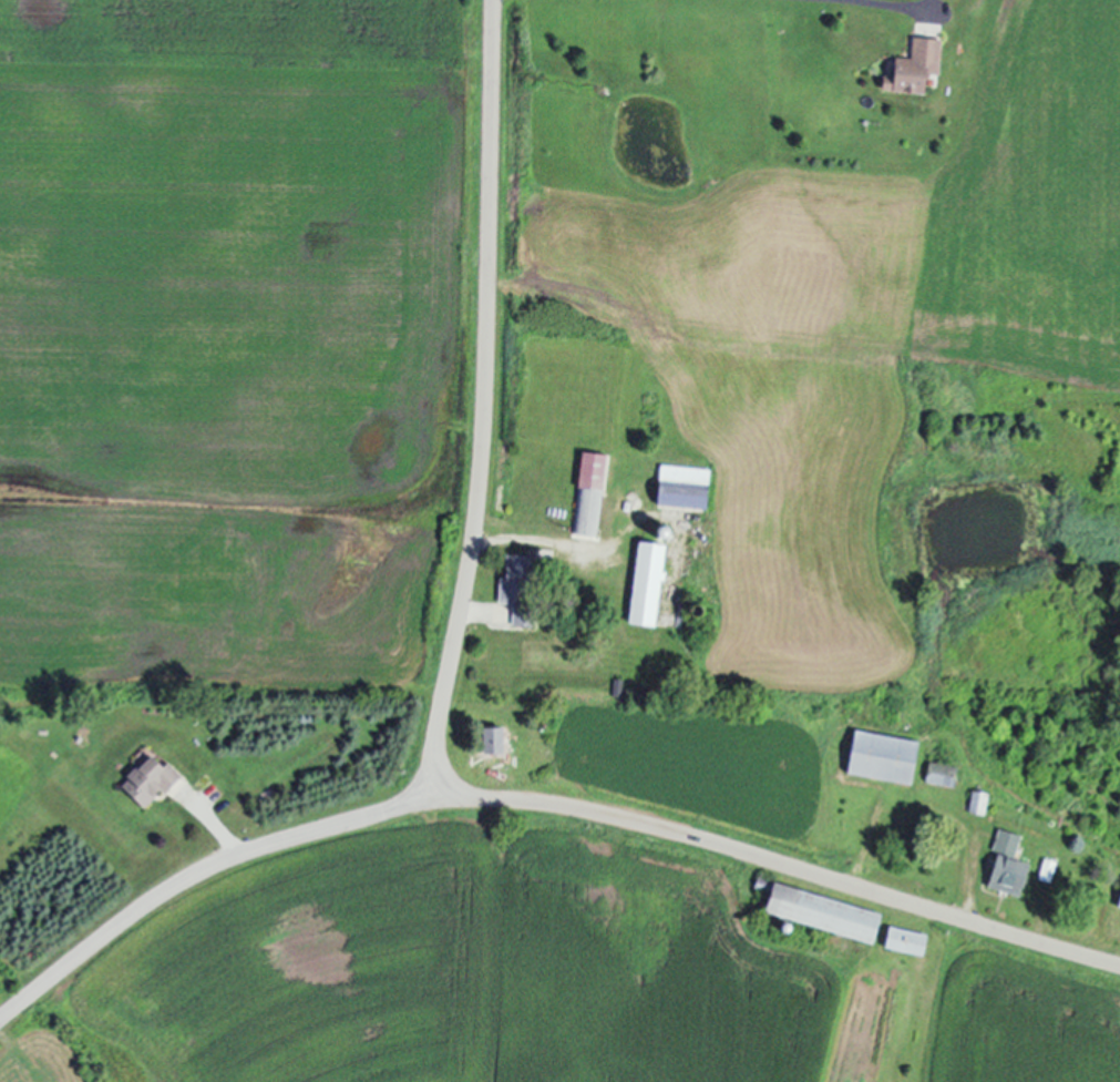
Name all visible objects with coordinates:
road: (885, 7)
building: (917, 68)
road: (487, 401)
building: (686, 486)
building: (590, 490)
road: (542, 542)
building: (650, 583)
building: (522, 589)
building: (496, 739)
building: (886, 756)
building: (944, 774)
building: (153, 780)
building: (979, 802)
road: (541, 803)
road: (220, 829)
building: (1010, 865)
building: (828, 913)
building: (908, 940)

